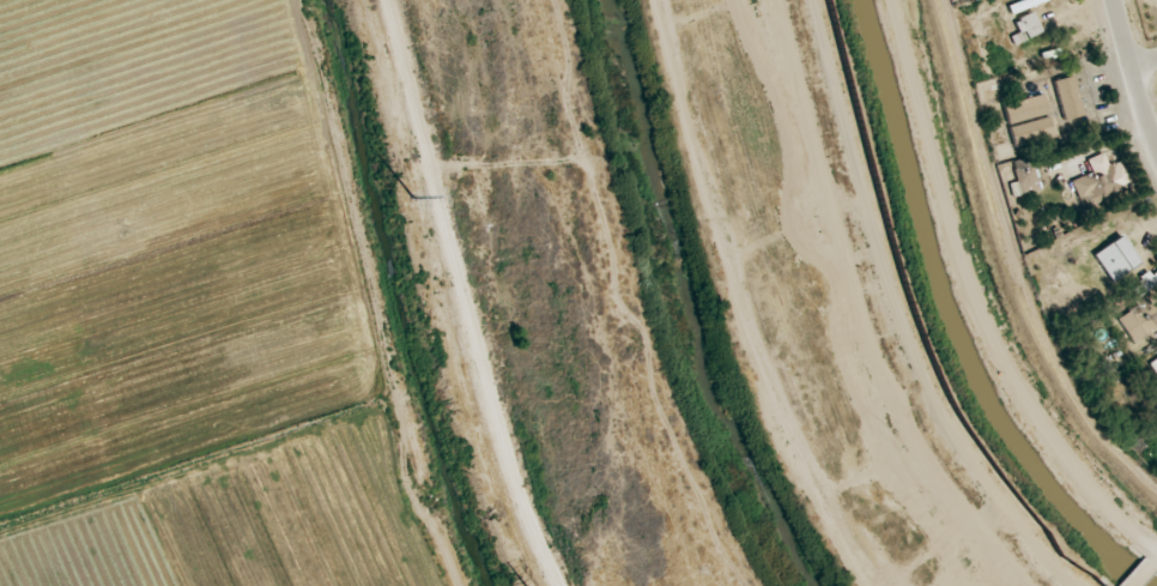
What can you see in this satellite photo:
road: (1146, 65)
road: (1137, 77)
building: (1101, 180)
power tower: (405, 197)
building: (1113, 252)
building: (1145, 284)
river: (674, 301)
road: (899, 313)
building: (1139, 320)
building: (1155, 364)
road: (1153, 558)
road: (1140, 574)

